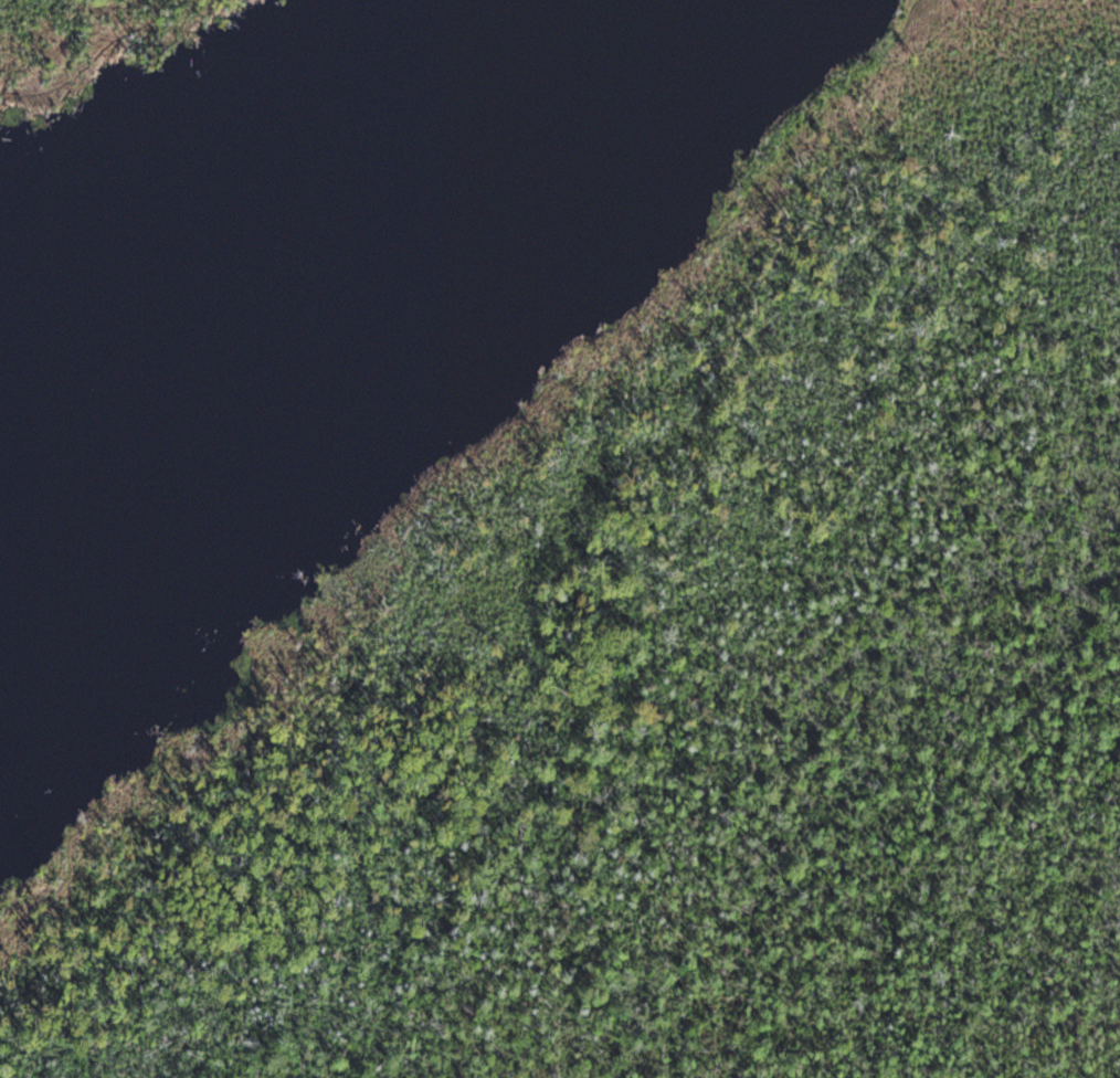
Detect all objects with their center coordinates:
river: (321, 219)

